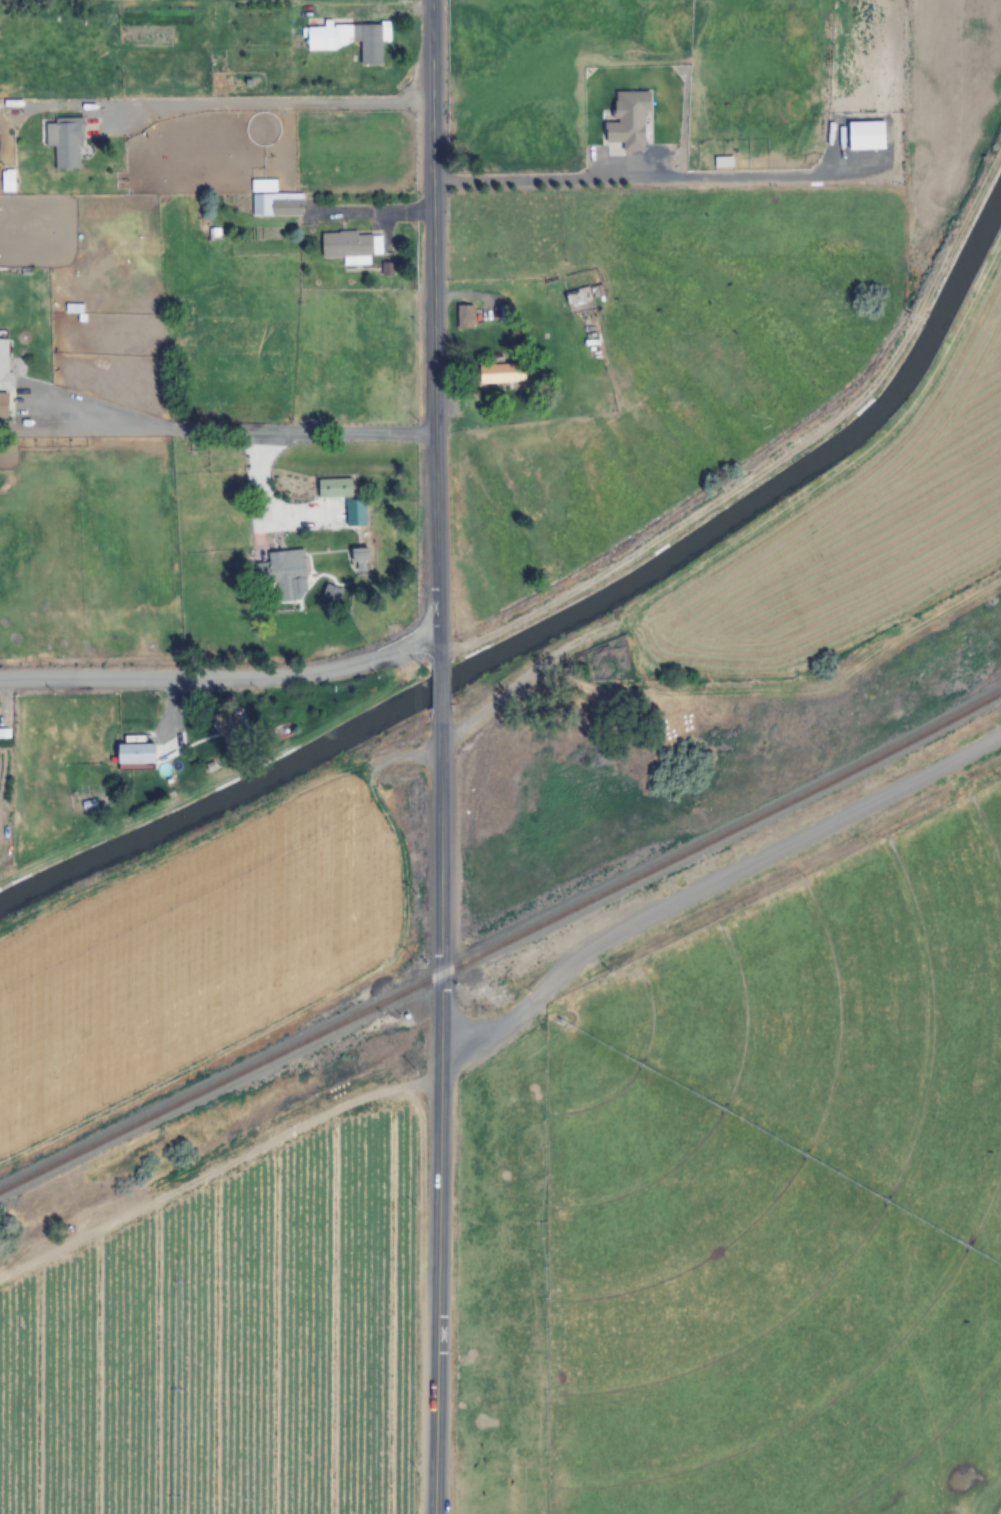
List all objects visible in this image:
building: (350, 39)
crop: (946, 110)
building: (630, 121)
building: (865, 135)
building: (62, 141)
building: (273, 200)
building: (351, 247)
building: (584, 296)
building: (465, 317)
road: (434, 331)
building: (502, 374)
building: (4, 376)
building: (334, 488)
building: (355, 512)
building: (284, 578)
building: (331, 593)
road: (222, 675)
road: (439, 691)
road: (784, 694)
road: (490, 704)
building: (233, 729)
building: (136, 754)
road: (710, 894)
railway: (501, 942)
crop: (197, 952)
road: (439, 1117)

